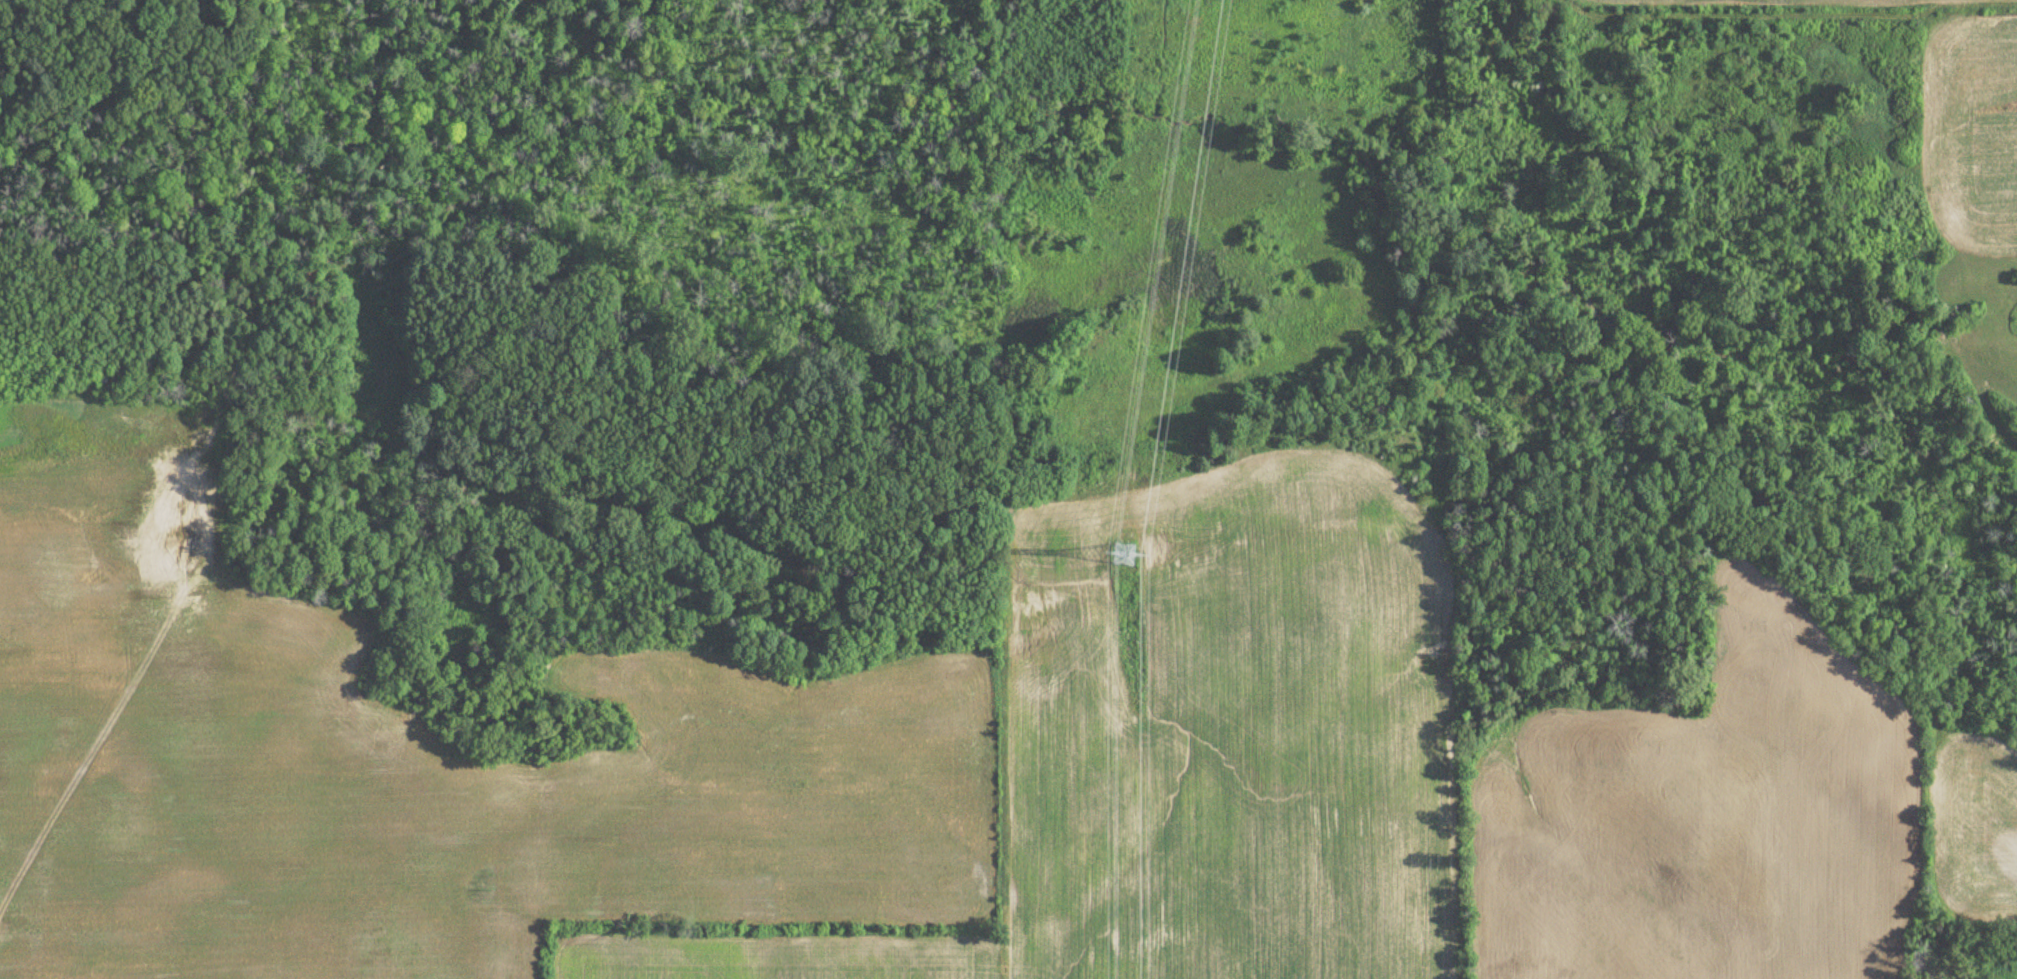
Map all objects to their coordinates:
power tower: (1131, 553)

